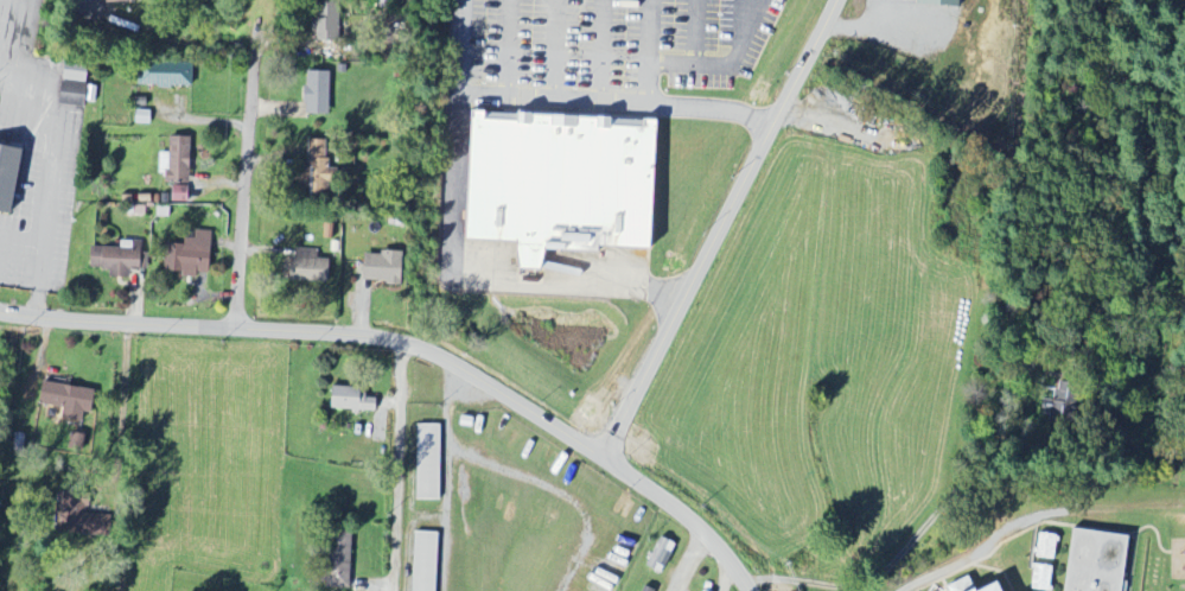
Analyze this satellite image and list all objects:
building: (121, 1)
building: (941, 2)
building: (329, 24)
road: (727, 64)
building: (77, 74)
building: (166, 75)
building: (319, 93)
building: (75, 95)
road: (664, 103)
road: (55, 129)
building: (177, 161)
building: (320, 170)
building: (9, 177)
road: (247, 179)
building: (565, 184)
building: (180, 193)
road: (726, 229)
road: (21, 237)
building: (191, 256)
building: (119, 259)
road: (451, 259)
building: (311, 267)
building: (383, 267)
road: (38, 279)
road: (415, 347)
building: (71, 400)
building: (352, 400)
building: (1059, 400)
road: (123, 405)
building: (19, 445)
building: (429, 463)
road: (397, 466)
road: (520, 475)
building: (85, 520)
building: (1046, 546)
building: (661, 555)
building: (340, 561)
building: (426, 561)
building: (1098, 561)
road: (690, 563)
road: (721, 571)
building: (1041, 578)
building: (964, 585)
building: (1000, 587)
building: (646, 589)
building: (700, 590)

